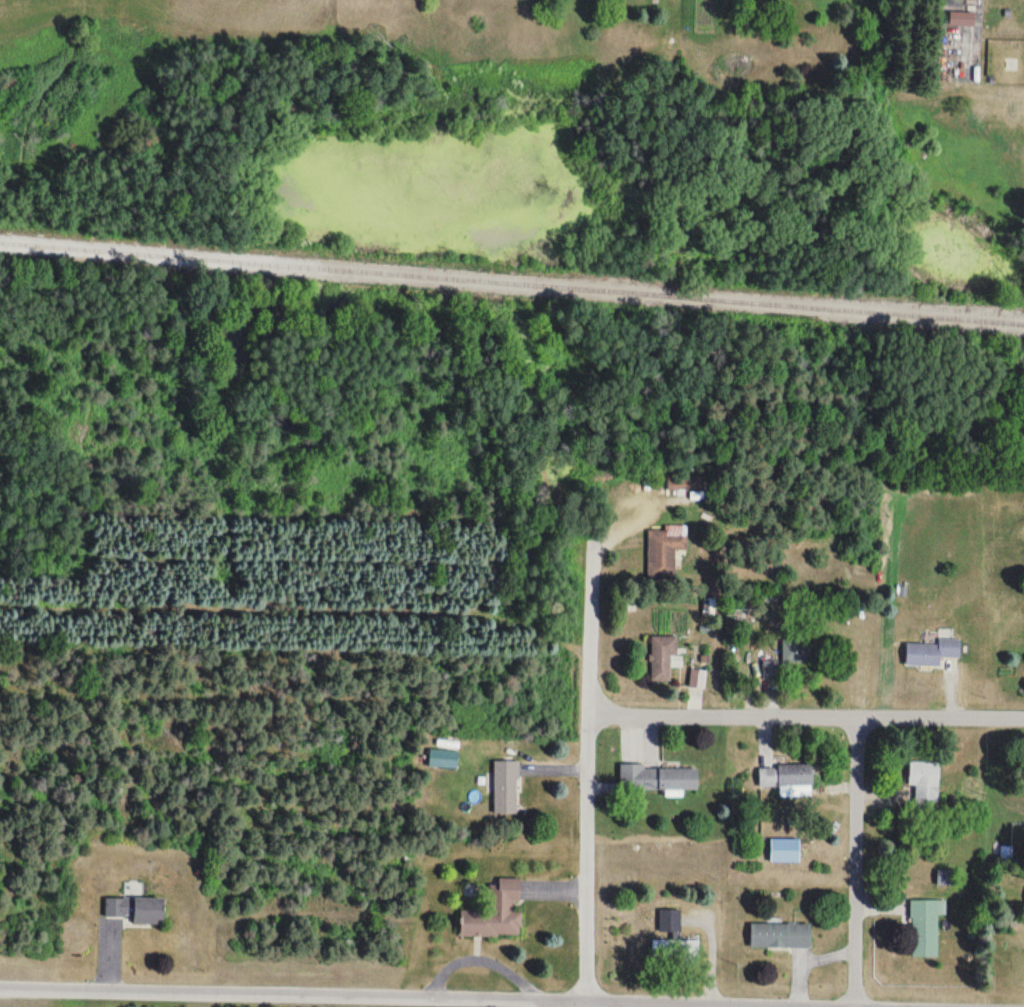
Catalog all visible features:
railway: (512, 281)
building: (678, 481)
building: (664, 551)
building: (795, 652)
building: (931, 653)
building: (662, 660)
building: (697, 679)
road: (804, 714)
road: (584, 770)
building: (769, 776)
building: (657, 779)
building: (795, 780)
building: (925, 783)
building: (505, 788)
building: (785, 851)
road: (852, 860)
building: (945, 878)
building: (115, 908)
building: (149, 911)
building: (495, 913)
building: (924, 929)
building: (780, 936)
building: (676, 937)
road: (471, 996)

